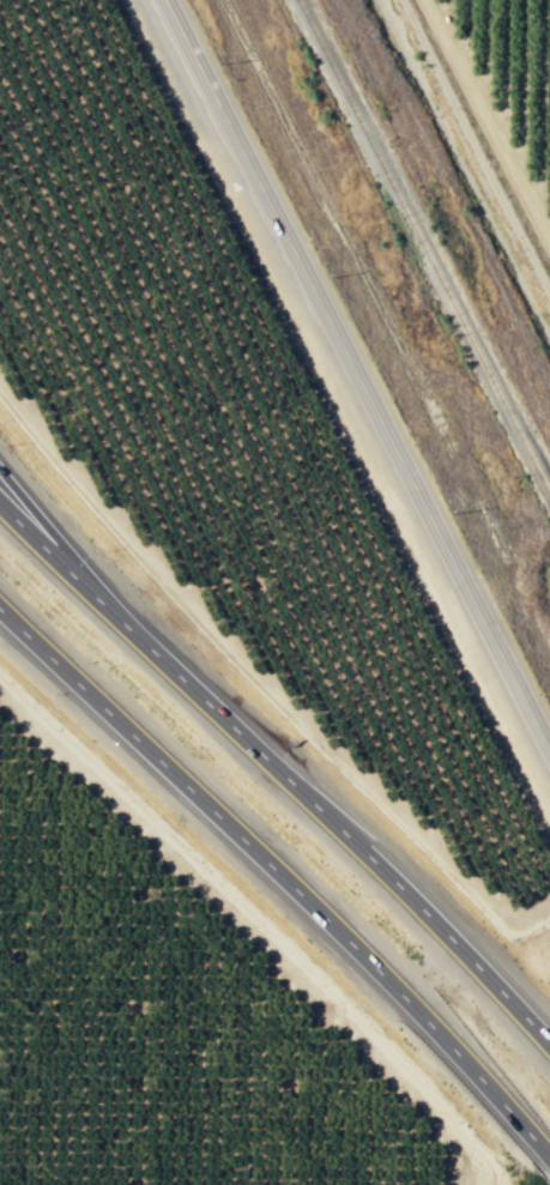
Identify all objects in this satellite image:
road: (491, 113)
road: (475, 146)
railway: (423, 247)
road: (356, 377)
road: (58, 534)
road: (280, 758)
road: (280, 872)
road: (255, 920)

